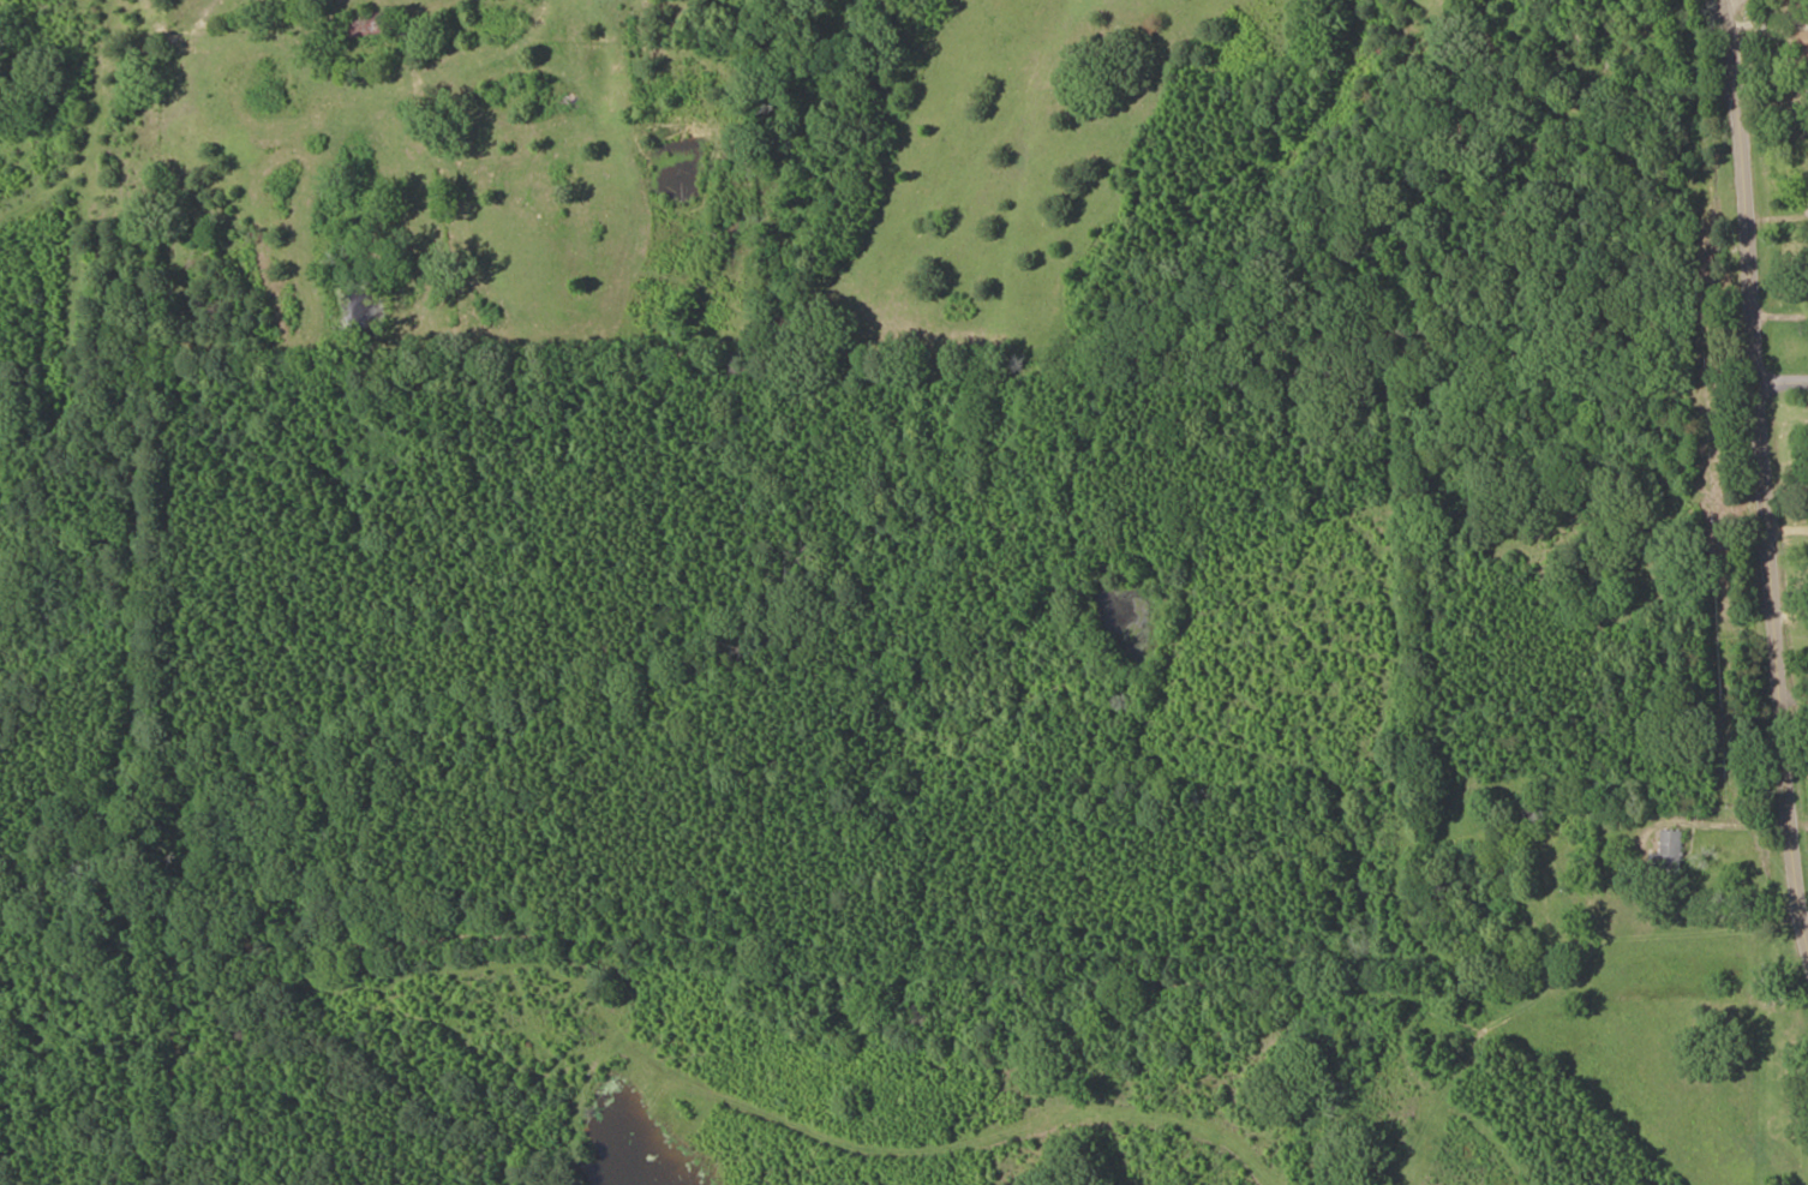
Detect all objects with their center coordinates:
building: (366, 24)
building: (1803, 38)
road: (1794, 378)
road: (1779, 394)
building: (1671, 850)

